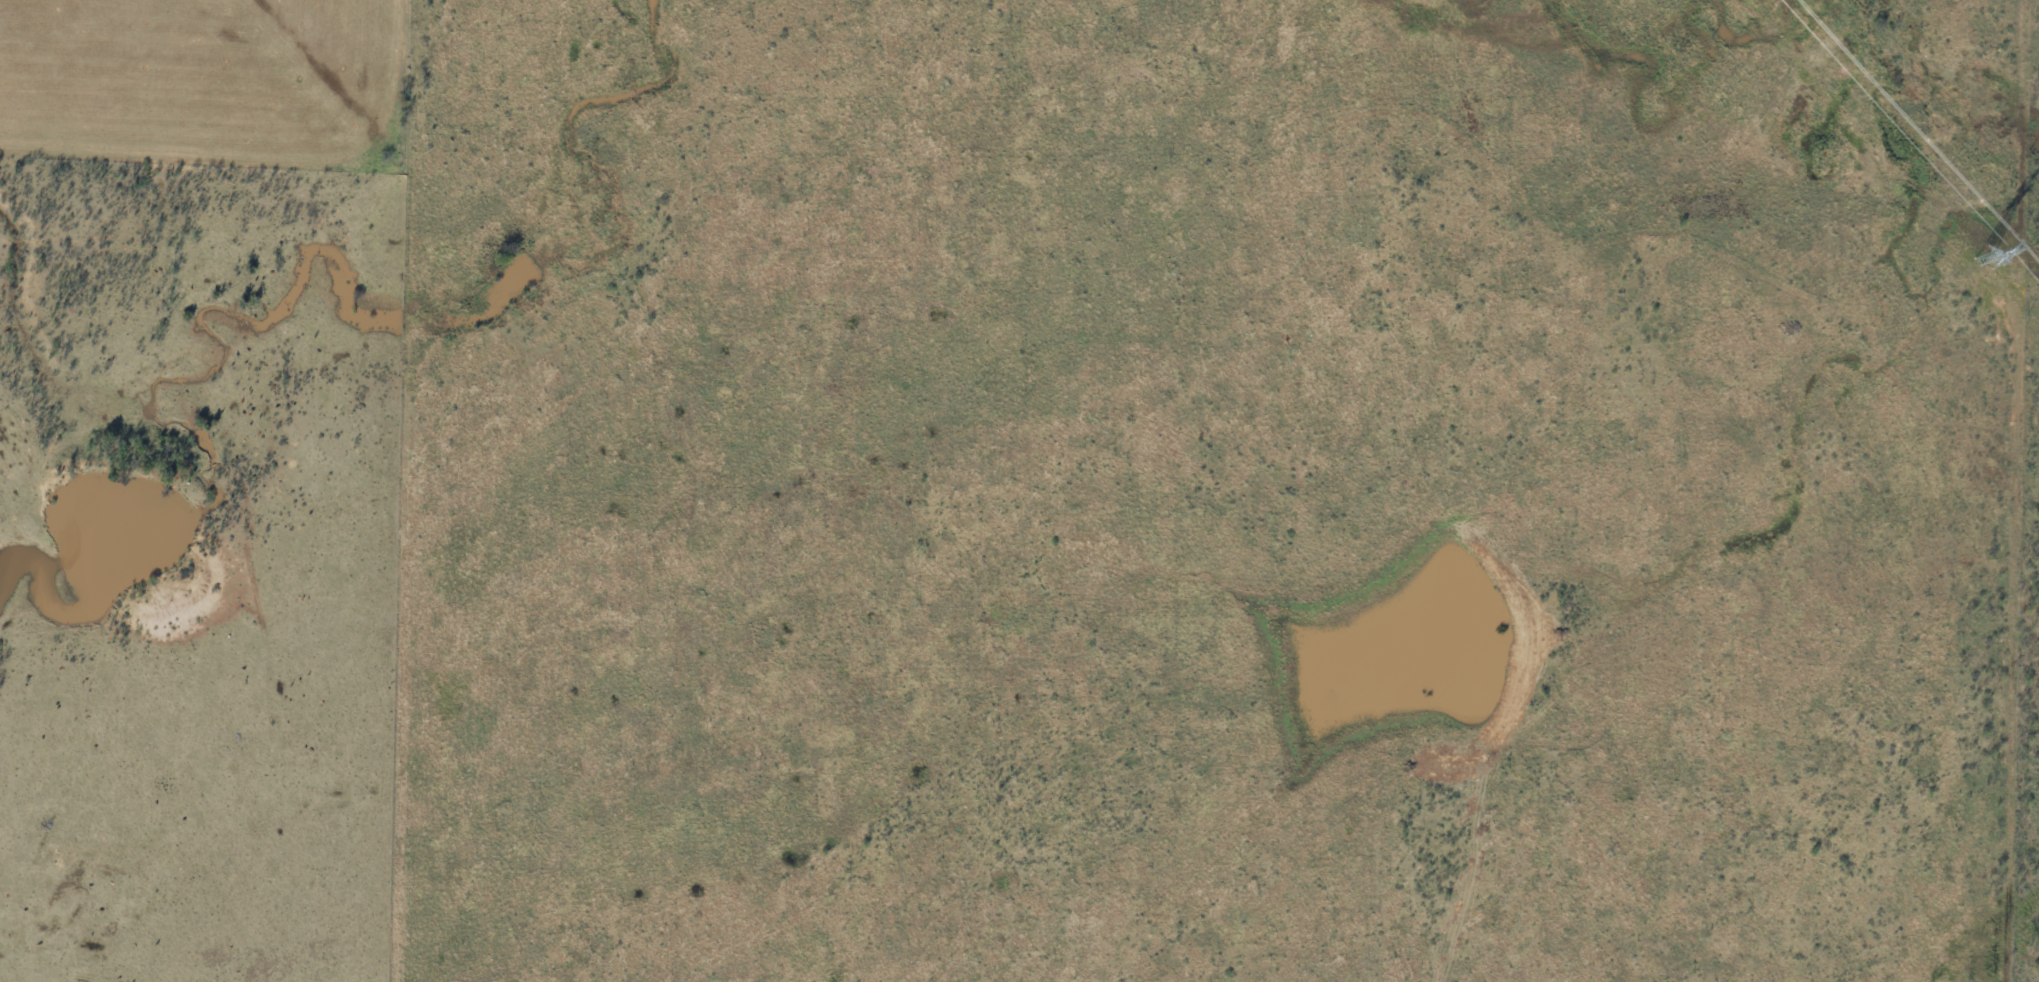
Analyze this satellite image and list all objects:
power tower: (1983, 256)

